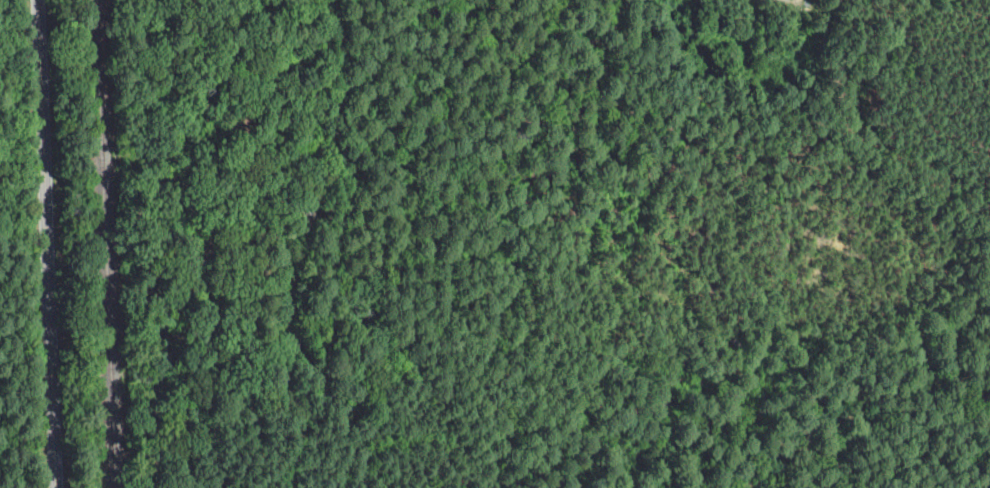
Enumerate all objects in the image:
road: (805, 1)
road: (811, 1)
road: (979, 40)
road: (986, 193)
road: (677, 217)
road: (47, 244)
railway: (105, 244)
road: (212, 248)
road: (299, 250)
road: (482, 280)

